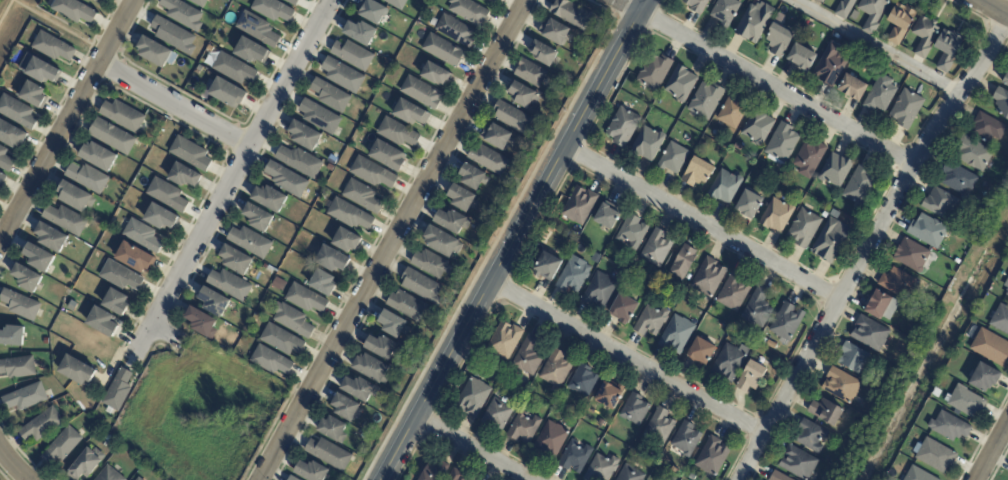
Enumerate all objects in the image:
building: (102, 0)
building: (493, 0)
building: (755, 0)
building: (293, 1)
building: (821, 1)
building: (199, 2)
building: (398, 3)
road: (628, 6)
building: (696, 6)
building: (273, 9)
building: (844, 9)
building: (74, 10)
building: (374, 10)
building: (468, 10)
road: (989, 10)
building: (725, 12)
building: (182, 13)
building: (570, 14)
building: (872, 14)
building: (779, 17)
building: (755, 22)
building: (900, 23)
road: (58, 26)
building: (257, 28)
building: (798, 28)
building: (454, 30)
building: (361, 31)
building: (554, 33)
building: (173, 35)
building: (924, 36)
building: (778, 41)
building: (54, 45)
building: (250, 48)
road: (875, 48)
building: (442, 49)
building: (947, 49)
building: (154, 51)
building: (351, 53)
building: (543, 53)
building: (801, 59)
building: (831, 66)
building: (39, 68)
building: (232, 68)
building: (201, 71)
building: (529, 72)
building: (654, 72)
building: (435, 73)
building: (340, 75)
building: (1005, 80)
building: (680, 84)
building: (851, 88)
road: (776, 89)
building: (421, 91)
building: (227, 93)
building: (30, 94)
building: (330, 95)
building: (880, 95)
building: (522, 97)
building: (705, 100)
building: (1001, 103)
road: (175, 106)
building: (906, 109)
building: (18, 110)
building: (408, 110)
building: (732, 113)
building: (127, 116)
building: (318, 116)
building: (511, 118)
road: (66, 120)
building: (622, 127)
building: (757, 128)
building: (987, 128)
building: (397, 131)
building: (11, 133)
building: (304, 134)
building: (116, 137)
building: (496, 138)
building: (648, 144)
building: (736, 144)
building: (782, 145)
building: (704, 147)
building: (191, 153)
building: (972, 154)
building: (388, 155)
building: (104, 157)
building: (672, 158)
building: (6, 159)
building: (809, 159)
building: (488, 160)
building: (299, 161)
road: (238, 171)
building: (835, 171)
building: (371, 172)
building: (698, 173)
building: (184, 175)
building: (2, 178)
building: (92, 178)
building: (472, 178)
building: (958, 178)
building: (286, 179)
building: (860, 186)
building: (724, 187)
building: (998, 190)
building: (167, 195)
building: (362, 196)
building: (270, 197)
building: (80, 198)
building: (461, 199)
building: (940, 204)
building: (578, 206)
building: (747, 206)
building: (826, 210)
building: (349, 213)
building: (161, 216)
building: (776, 216)
building: (257, 217)
building: (605, 217)
building: (70, 220)
building: (450, 222)
road: (701, 223)
building: (804, 229)
building: (927, 231)
building: (632, 233)
building: (142, 236)
building: (55, 237)
building: (346, 239)
road: (512, 239)
road: (393, 240)
building: (830, 241)
building: (251, 242)
building: (441, 243)
building: (550, 245)
road: (869, 245)
building: (568, 247)
building: (656, 249)
building: (566, 253)
building: (134, 256)
building: (911, 256)
building: (42, 257)
building: (331, 258)
building: (235, 259)
building: (598, 259)
building: (957, 261)
building: (682, 263)
building: (430, 264)
building: (547, 267)
building: (119, 275)
building: (30, 278)
building: (573, 278)
building: (707, 278)
building: (322, 283)
building: (228, 285)
building: (898, 285)
building: (420, 286)
building: (599, 292)
building: (733, 293)
building: (1007, 293)
building: (303, 299)
building: (213, 301)
building: (115, 302)
building: (24, 305)
building: (71, 305)
building: (406, 306)
building: (882, 307)
building: (923, 307)
building: (624, 309)
building: (757, 309)
building: (292, 319)
building: (1000, 320)
building: (102, 322)
building: (200, 322)
building: (650, 322)
building: (786, 323)
building: (392, 325)
building: (869, 334)
building: (676, 335)
building: (732, 335)
building: (17, 338)
building: (280, 341)
building: (503, 341)
building: (764, 343)
building: (770, 346)
building: (382, 347)
building: (991, 349)
building: (701, 352)
building: (527, 357)
building: (852, 358)
building: (270, 359)
road: (626, 360)
building: (729, 363)
building: (20, 368)
building: (76, 369)
building: (555, 369)
building: (371, 370)
building: (752, 377)
building: (984, 379)
building: (582, 381)
building: (840, 386)
building: (869, 388)
building: (359, 390)
building: (119, 391)
building: (937, 393)
building: (608, 397)
building: (29, 398)
building: (472, 398)
building: (966, 403)
building: (346, 409)
building: (634, 411)
building: (826, 412)
building: (496, 415)
building: (45, 426)
building: (659, 427)
building: (949, 428)
building: (524, 429)
building: (333, 431)
building: (809, 437)
building: (686, 440)
building: (550, 442)
road: (473, 446)
building: (66, 447)
road: (991, 450)
building: (327, 455)
building: (935, 456)
building: (712, 457)
building: (574, 458)
building: (797, 464)
building: (88, 465)
road: (13, 466)
building: (601, 469)
building: (674, 470)
building: (310, 471)
building: (434, 472)
building: (629, 474)
park: (4, 475)
building: (112, 475)
building: (917, 475)
building: (456, 476)
building: (693, 477)
building: (777, 477)
building: (291, 478)
building: (138, 479)
building: (142, 479)

